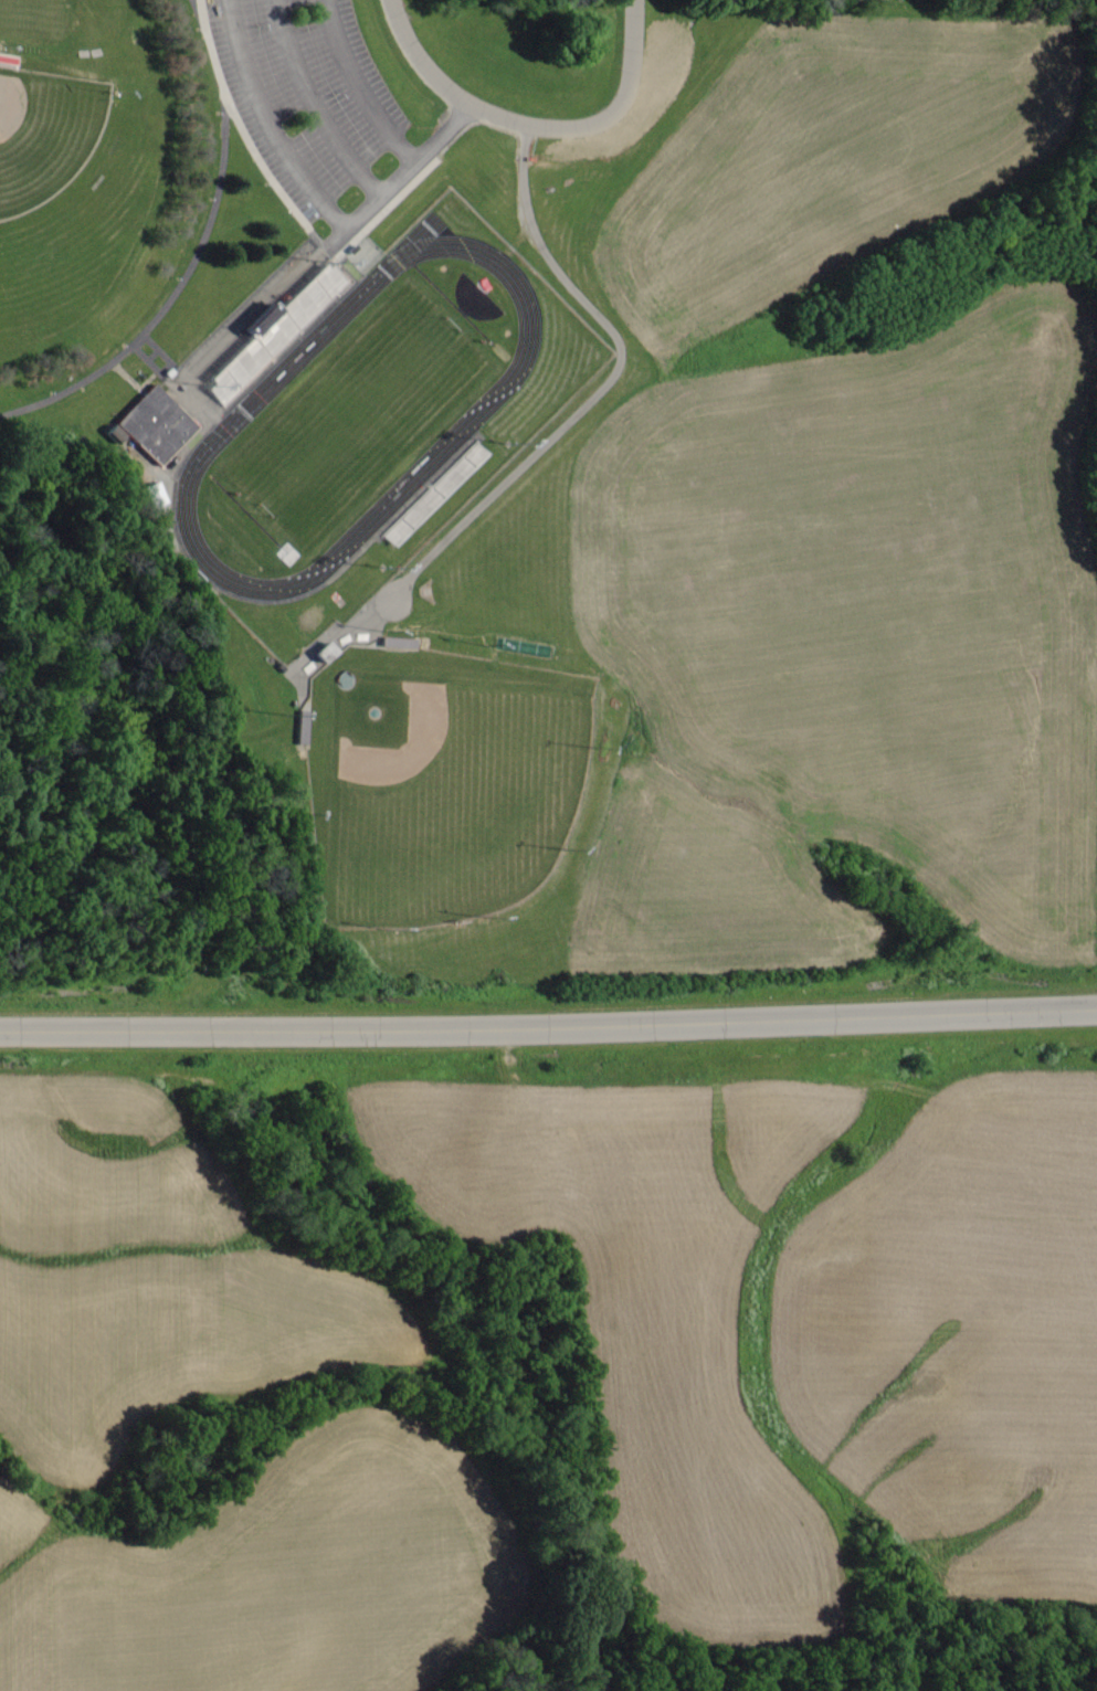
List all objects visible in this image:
road: (424, 62)
road: (360, 88)
road: (316, 104)
road: (603, 123)
road: (266, 125)
road: (330, 245)
road: (198, 250)
building: (270, 331)
park: (356, 414)
track: (238, 415)
building: (158, 421)
road: (548, 1026)

